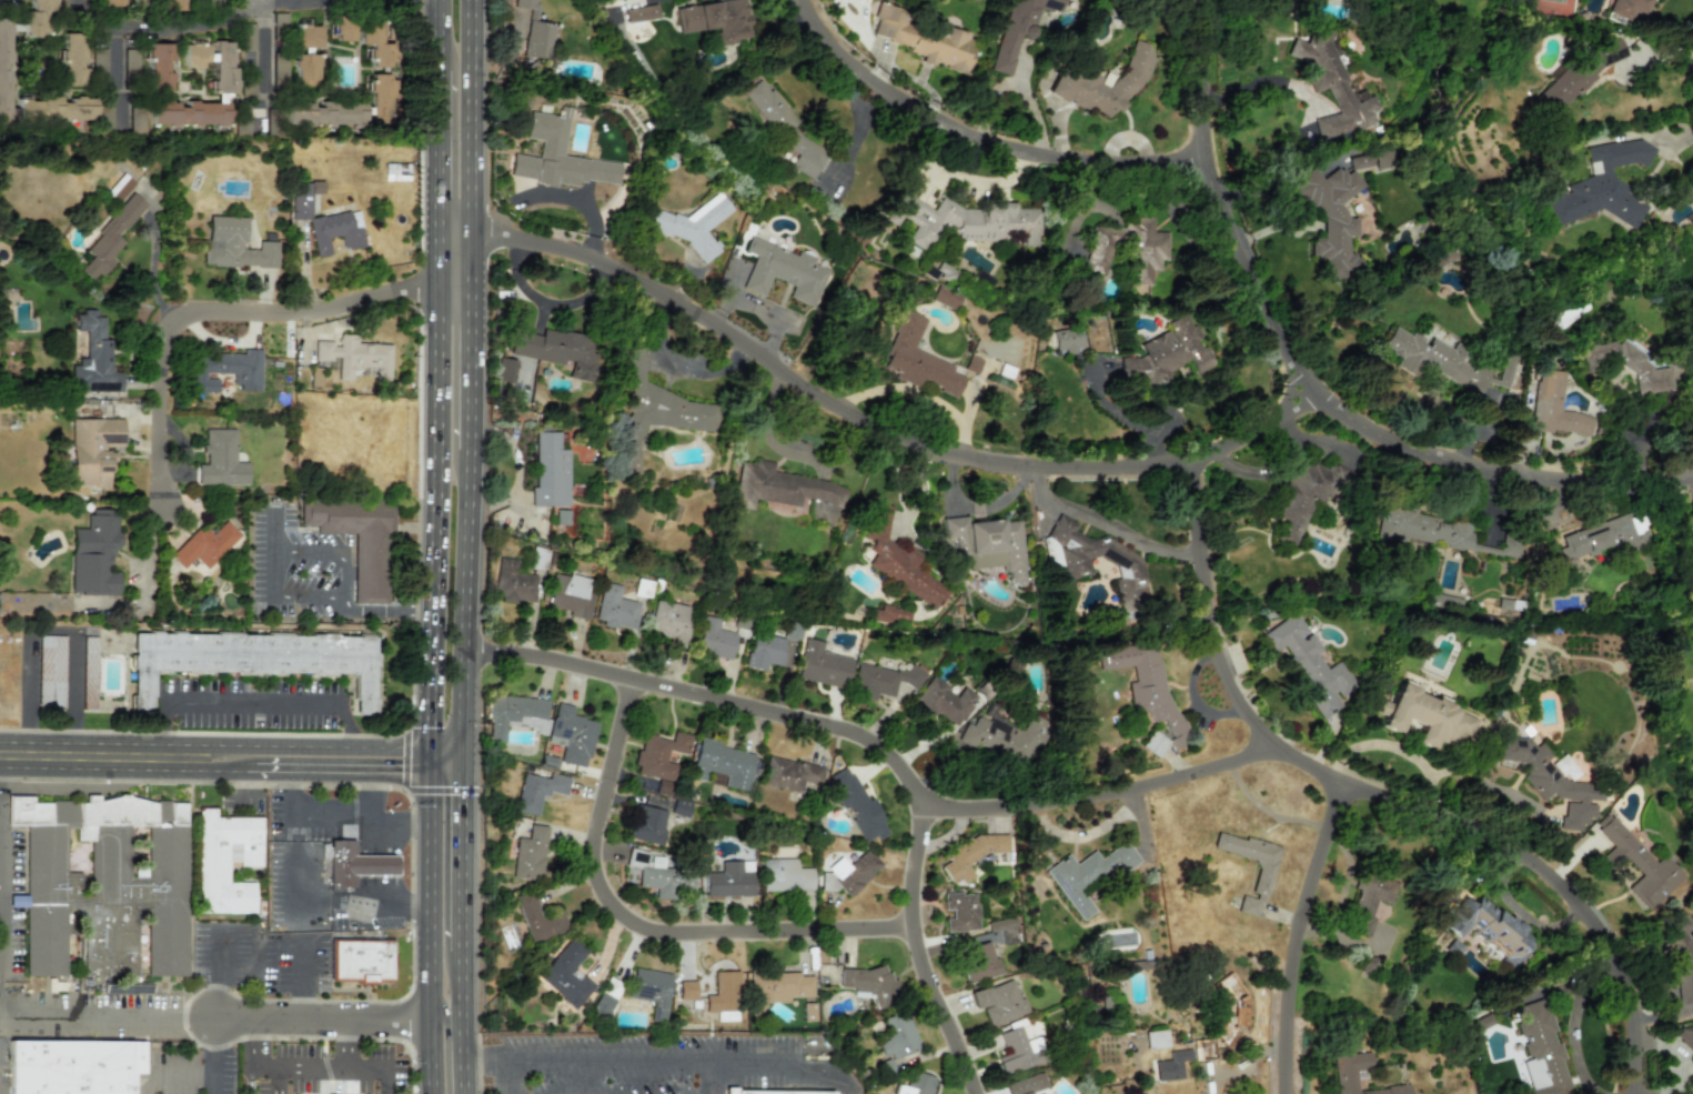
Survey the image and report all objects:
building: (138, 1)
building: (109, 2)
building: (171, 4)
road: (249, 6)
building: (1626, 8)
building: (639, 13)
building: (37, 17)
building: (279, 20)
building: (714, 20)
road: (182, 28)
building: (1018, 29)
building: (343, 30)
road: (434, 34)
building: (305, 37)
building: (923, 39)
building: (375, 43)
road: (1657, 53)
building: (72, 60)
building: (212, 63)
building: (99, 66)
building: (159, 67)
building: (279, 68)
building: (305, 70)
road: (260, 72)
building: (1579, 73)
road: (120, 81)
building: (1101, 83)
road: (1017, 87)
building: (1329, 87)
building: (379, 97)
building: (38, 99)
building: (189, 113)
building: (324, 113)
building: (135, 120)
building: (242, 122)
building: (785, 130)
road: (474, 142)
road: (961, 144)
building: (556, 155)
building: (1381, 157)
road: (434, 162)
building: (396, 171)
building: (1602, 185)
building: (121, 187)
building: (1331, 214)
building: (324, 220)
building: (965, 221)
building: (689, 224)
building: (110, 238)
building: (234, 245)
building: (1147, 251)
building: (1440, 257)
building: (783, 271)
building: (944, 297)
road: (222, 312)
building: (1066, 339)
building: (556, 350)
building: (1167, 353)
building: (353, 357)
building: (93, 358)
building: (917, 359)
building: (1444, 361)
building: (971, 363)
building: (1626, 365)
road: (472, 367)
building: (505, 370)
building: (225, 371)
road: (1298, 392)
building: (1554, 407)
building: (654, 410)
road: (858, 435)
building: (93, 450)
building: (220, 460)
building: (548, 471)
building: (1686, 483)
building: (786, 490)
building: (1302, 498)
road: (430, 506)
road: (1107, 525)
building: (1419, 528)
building: (1604, 536)
building: (357, 541)
building: (204, 545)
building: (985, 545)
building: (1509, 548)
road: (340, 552)
building: (538, 555)
building: (94, 556)
building: (898, 560)
building: (1076, 570)
building: (513, 582)
building: (570, 594)
road: (464, 603)
building: (614, 608)
road: (314, 611)
building: (888, 614)
building: (667, 620)
road: (52, 629)
building: (713, 639)
building: (764, 651)
building: (252, 660)
building: (1309, 664)
building: (820, 665)
building: (50, 672)
building: (89, 672)
building: (880, 681)
building: (1143, 683)
building: (943, 702)
road: (251, 703)
building: (514, 715)
building: (1424, 717)
road: (163, 730)
road: (351, 732)
road: (319, 734)
building: (570, 734)
building: (997, 739)
building: (658, 754)
road: (873, 756)
road: (183, 757)
road: (443, 759)
road: (396, 760)
building: (720, 763)
building: (788, 773)
building: (1553, 781)
building: (663, 786)
road: (427, 789)
building: (536, 791)
building: (855, 804)
road: (1364, 805)
building: (677, 806)
road: (356, 819)
building: (645, 824)
road: (286, 842)
building: (528, 853)
building: (969, 854)
road: (465, 855)
building: (224, 862)
building: (340, 863)
building: (374, 864)
gas station: (374, 864)
building: (1635, 864)
building: (850, 872)
building: (1086, 874)
building: (784, 875)
building: (659, 876)
building: (1261, 877)
building: (727, 879)
building: (104, 883)
building: (1369, 900)
building: (960, 911)
building: (538, 919)
building: (995, 924)
building: (1490, 929)
road: (627, 934)
road: (1290, 941)
road: (909, 954)
road: (431, 955)
building: (361, 960)
road: (412, 961)
building: (978, 961)
building: (566, 974)
road: (302, 978)
building: (870, 984)
building: (776, 987)
building: (649, 990)
building: (686, 990)
building: (723, 996)
building: (604, 997)
building: (997, 1002)
road: (107, 1018)
road: (324, 1021)
road: (456, 1023)
building: (1215, 1028)
building: (897, 1036)
building: (1156, 1038)
road: (253, 1043)
road: (346, 1044)
building: (1018, 1051)
building: (1539, 1051)
road: (445, 1052)
road: (487, 1055)
road: (214, 1056)
road: (687, 1058)
road: (478, 1063)
parking lot: (637, 1064)
building: (73, 1066)
road: (331, 1066)
road: (517, 1075)
road: (716, 1076)
building: (1346, 1077)
road: (252, 1080)
road: (274, 1080)
building: (915, 1084)
building: (1025, 1084)
building: (770, 1092)

